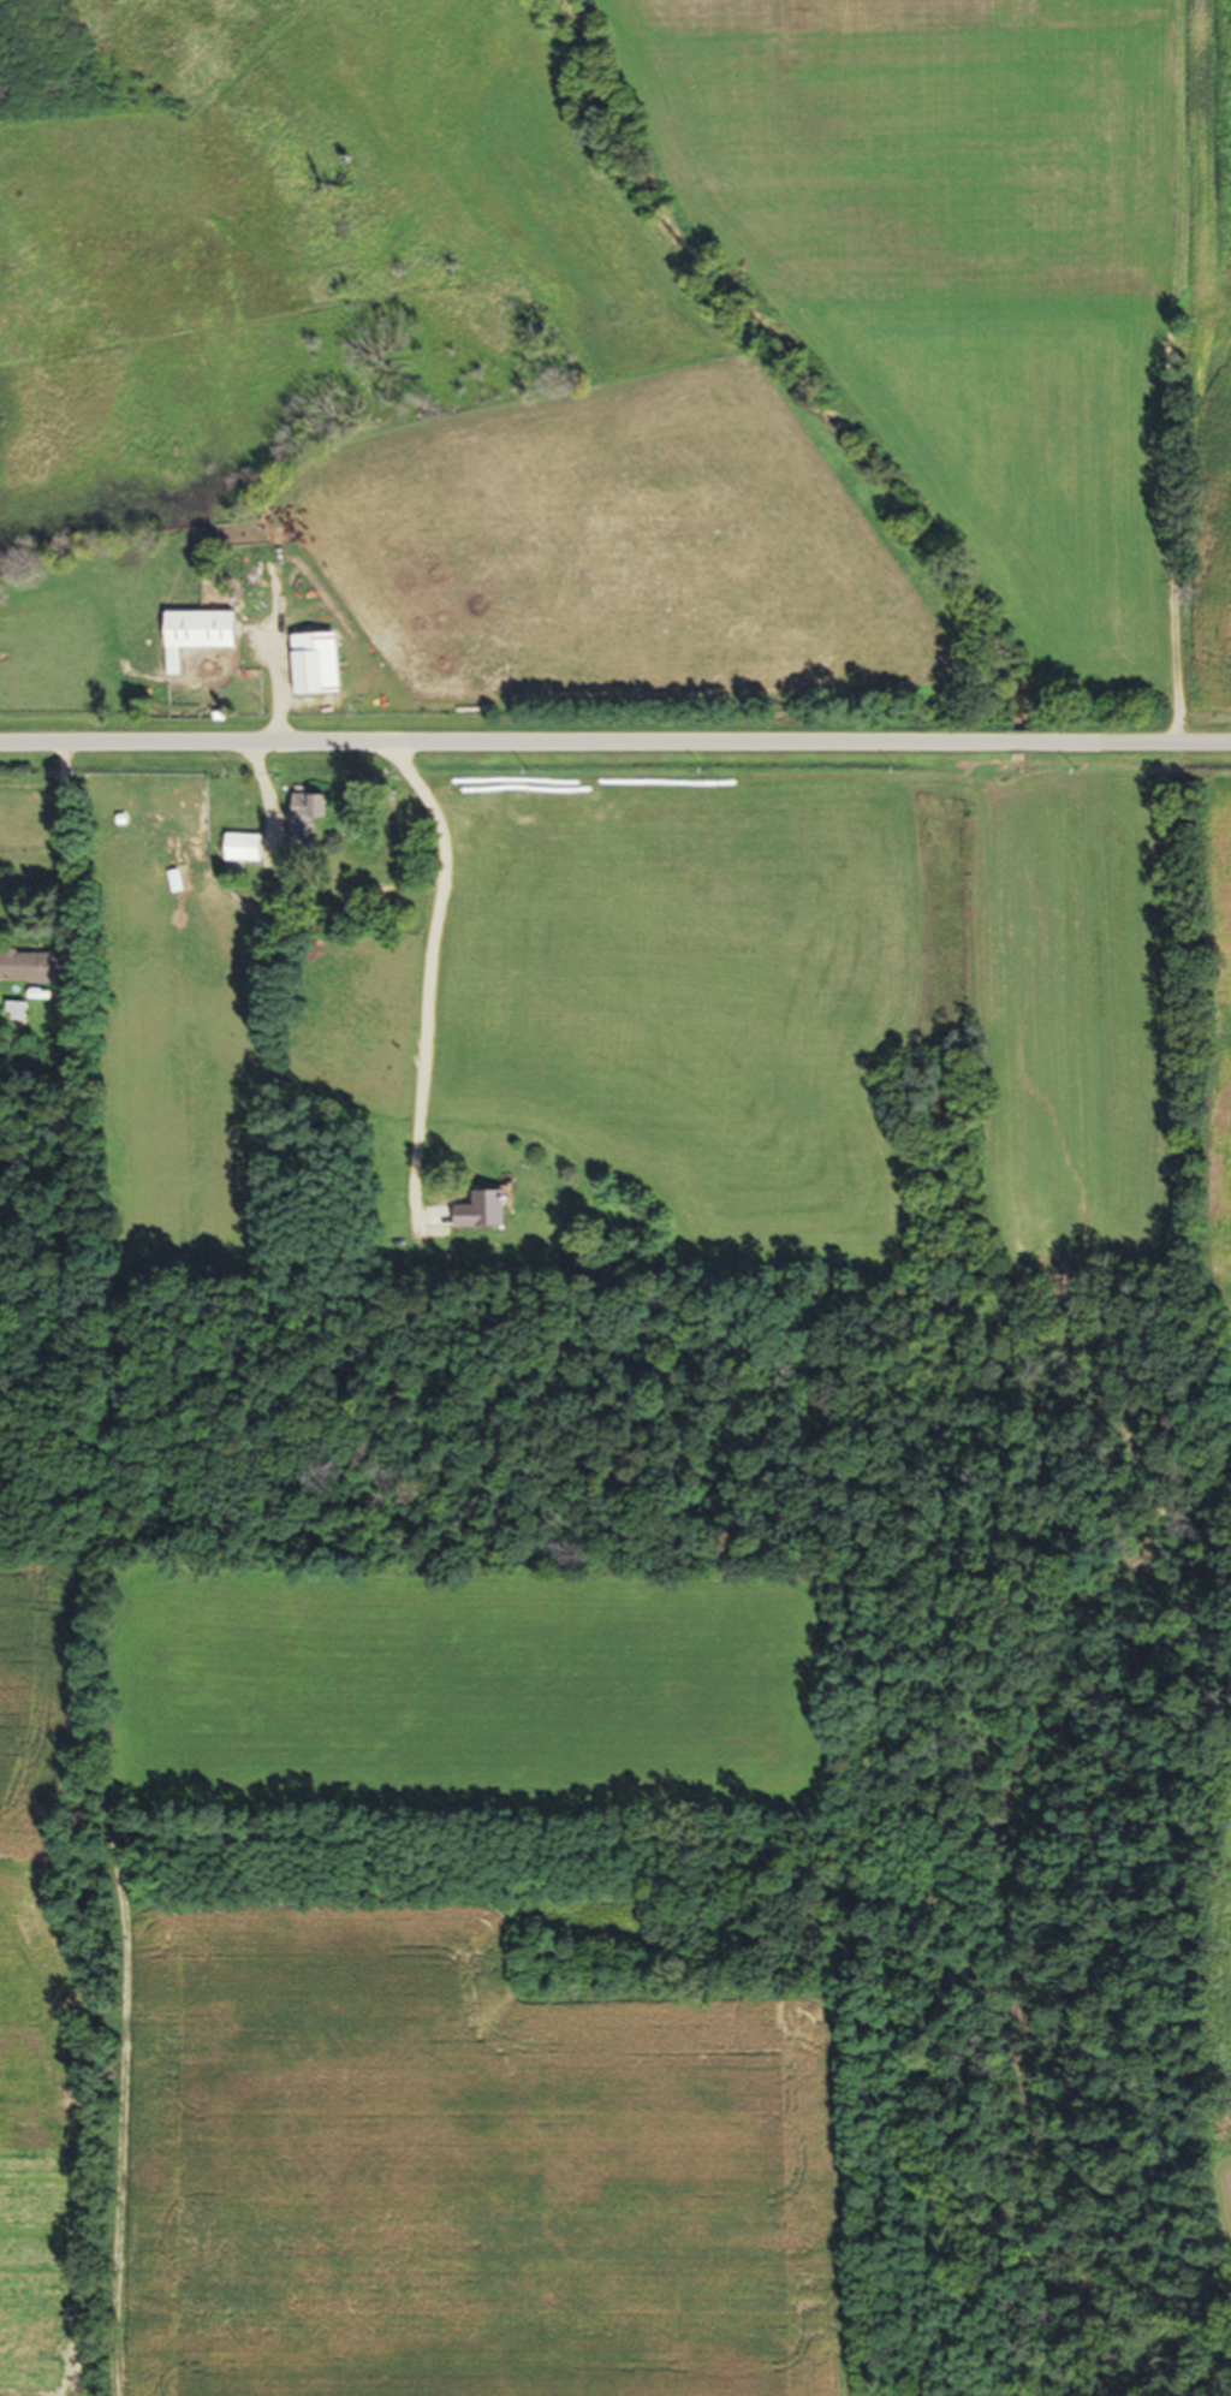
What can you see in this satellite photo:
building: (196, 641)
building: (304, 680)
road: (614, 743)
building: (304, 828)
building: (240, 854)
building: (24, 974)
road: (422, 979)
building: (477, 1218)

